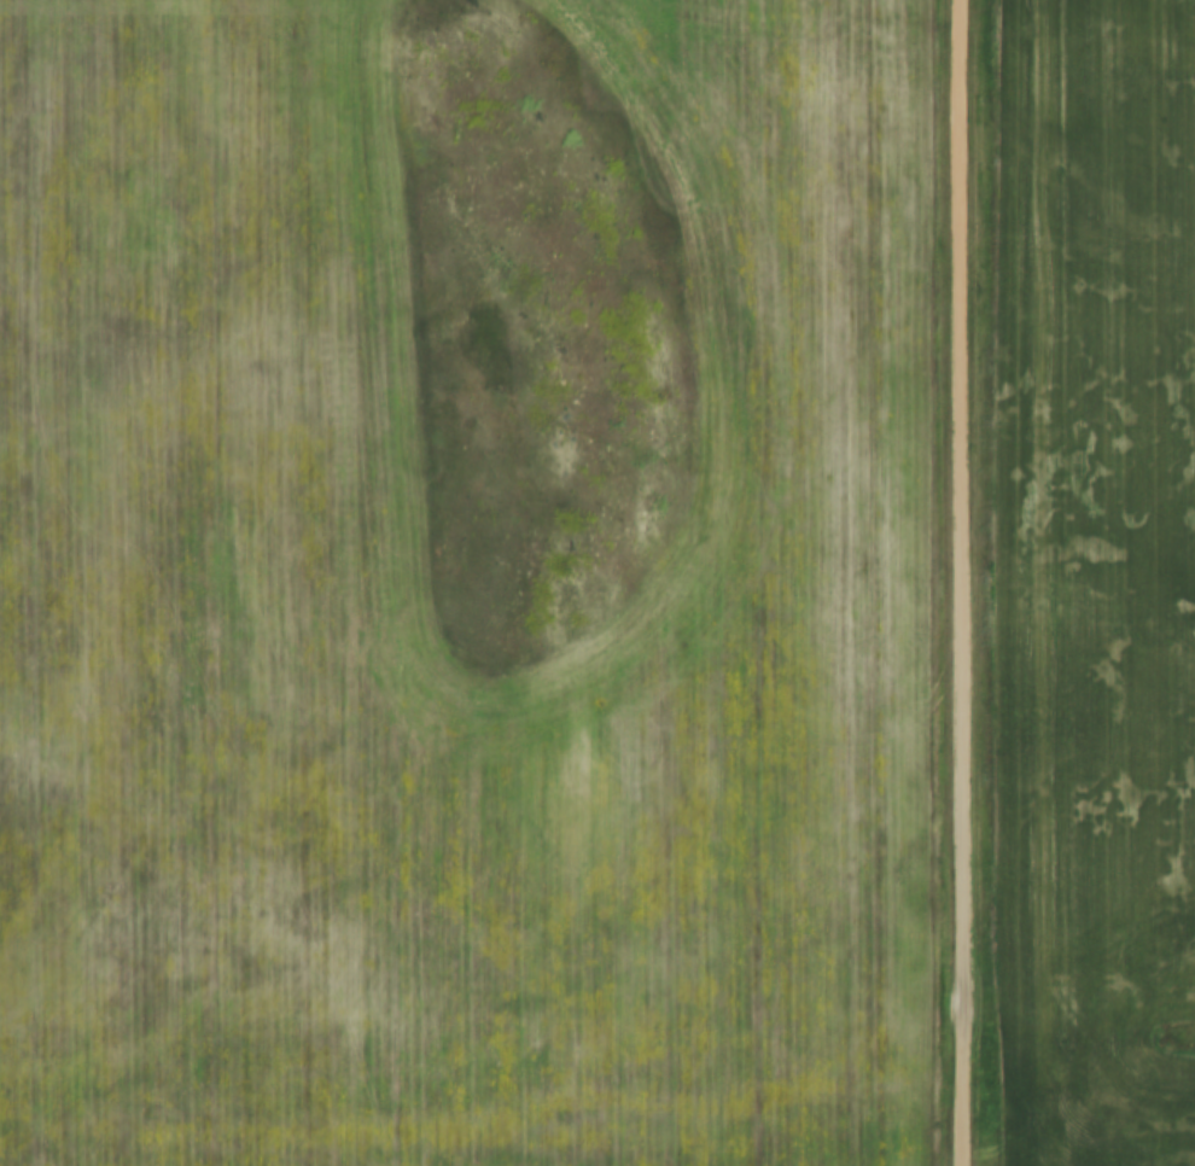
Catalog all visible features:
road: (957, 583)

